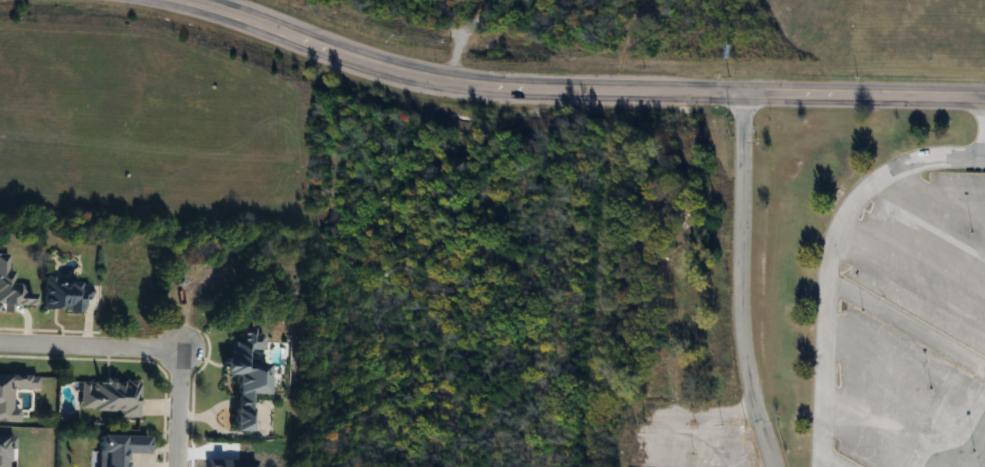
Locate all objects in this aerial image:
road: (583, 90)
road: (984, 137)
road: (827, 259)
building: (3, 273)
road: (739, 282)
building: (61, 295)
road: (906, 325)
parking lot: (913, 326)
road: (94, 348)
building: (240, 375)
building: (108, 398)
road: (187, 409)
building: (115, 448)
road: (829, 462)

